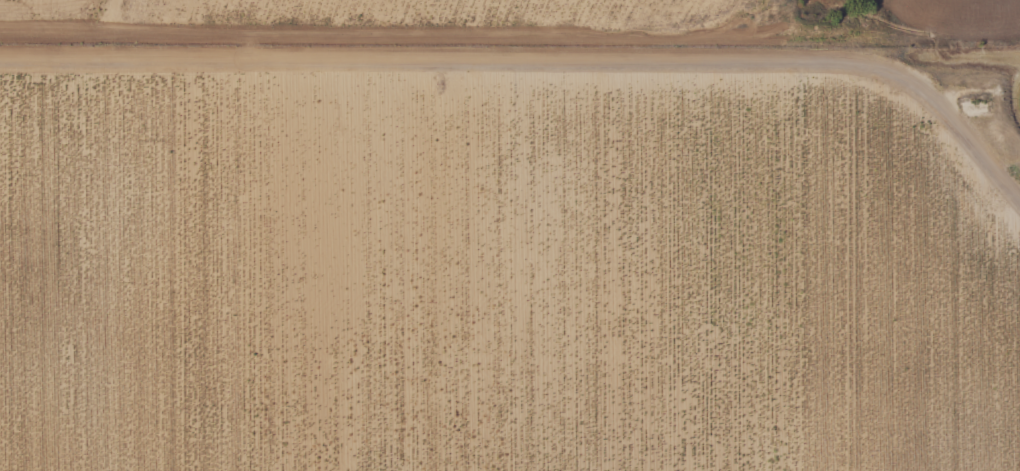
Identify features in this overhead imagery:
road: (545, 62)
building: (972, 105)

